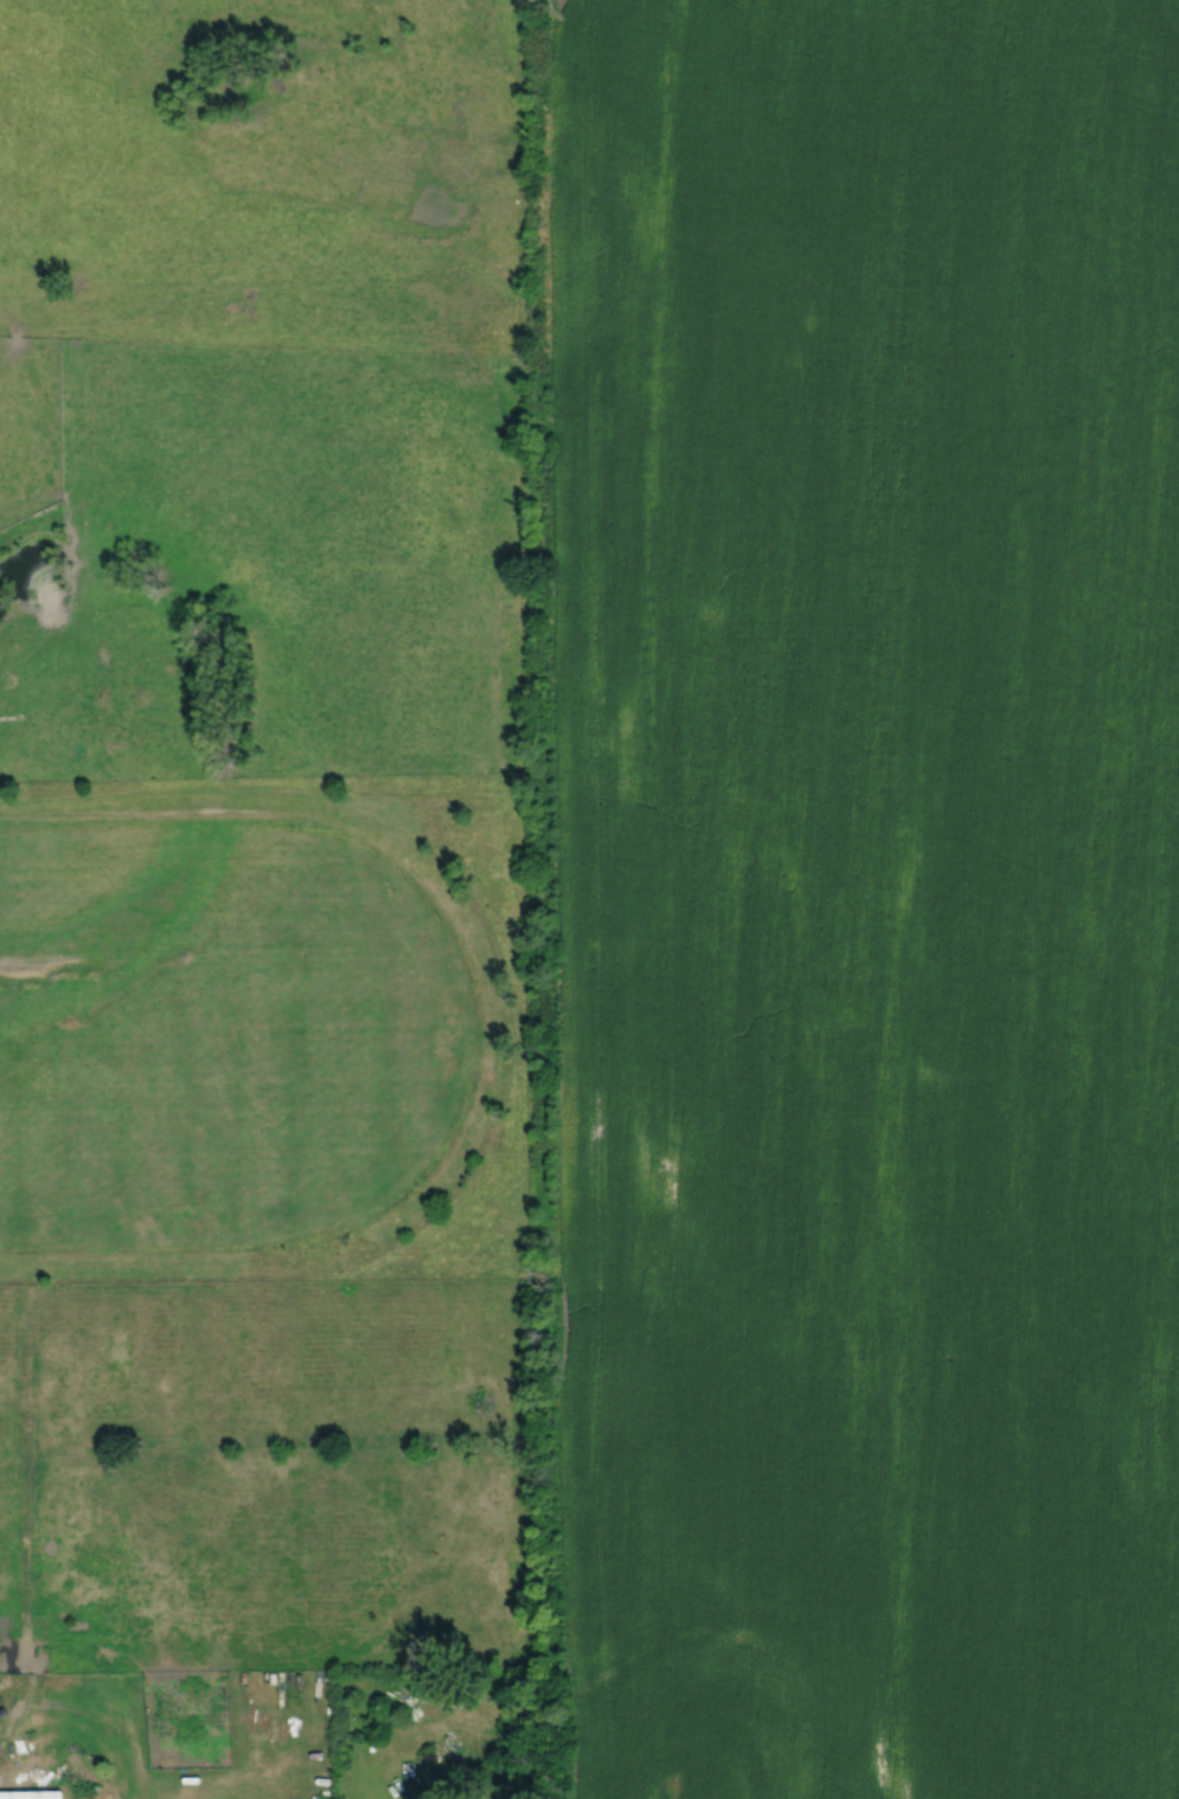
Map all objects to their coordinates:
building: (78, 1627)

